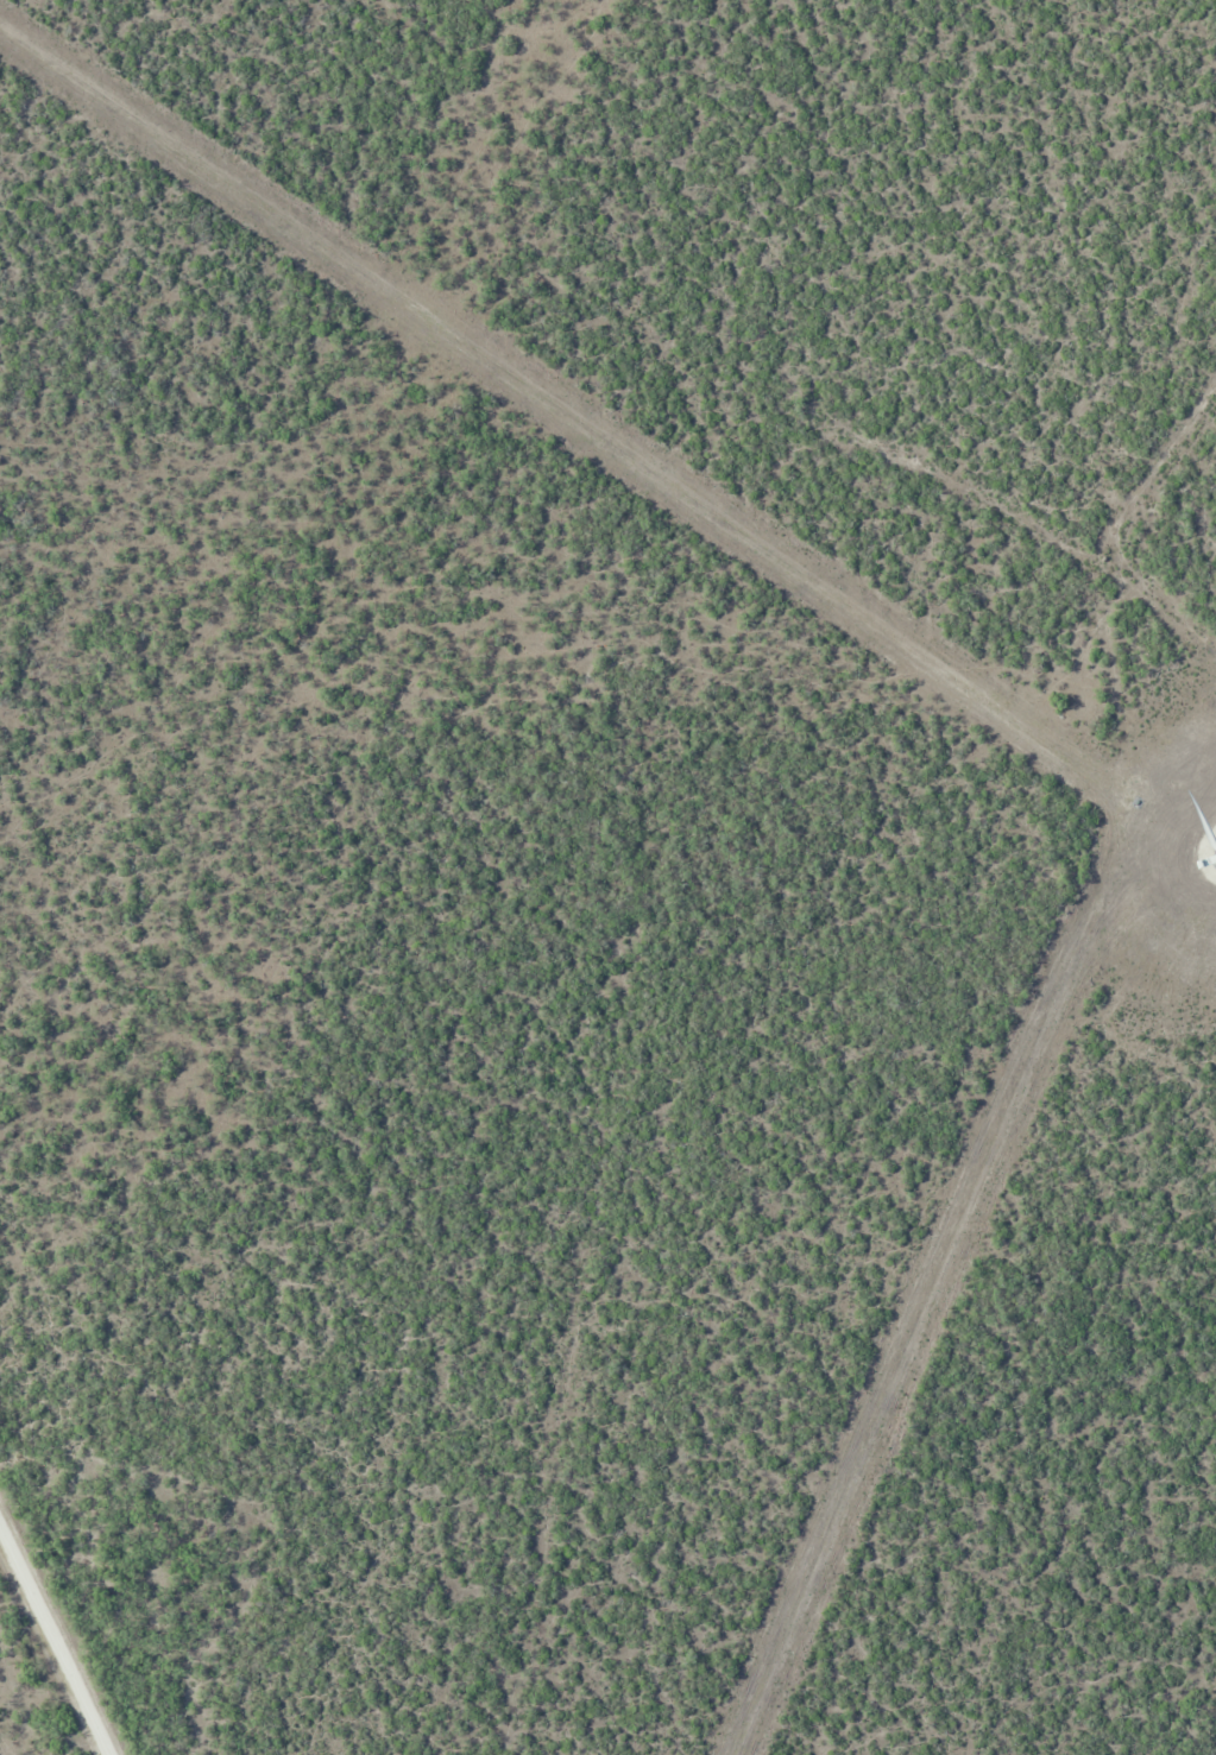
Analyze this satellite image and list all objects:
road: (37, 1662)

